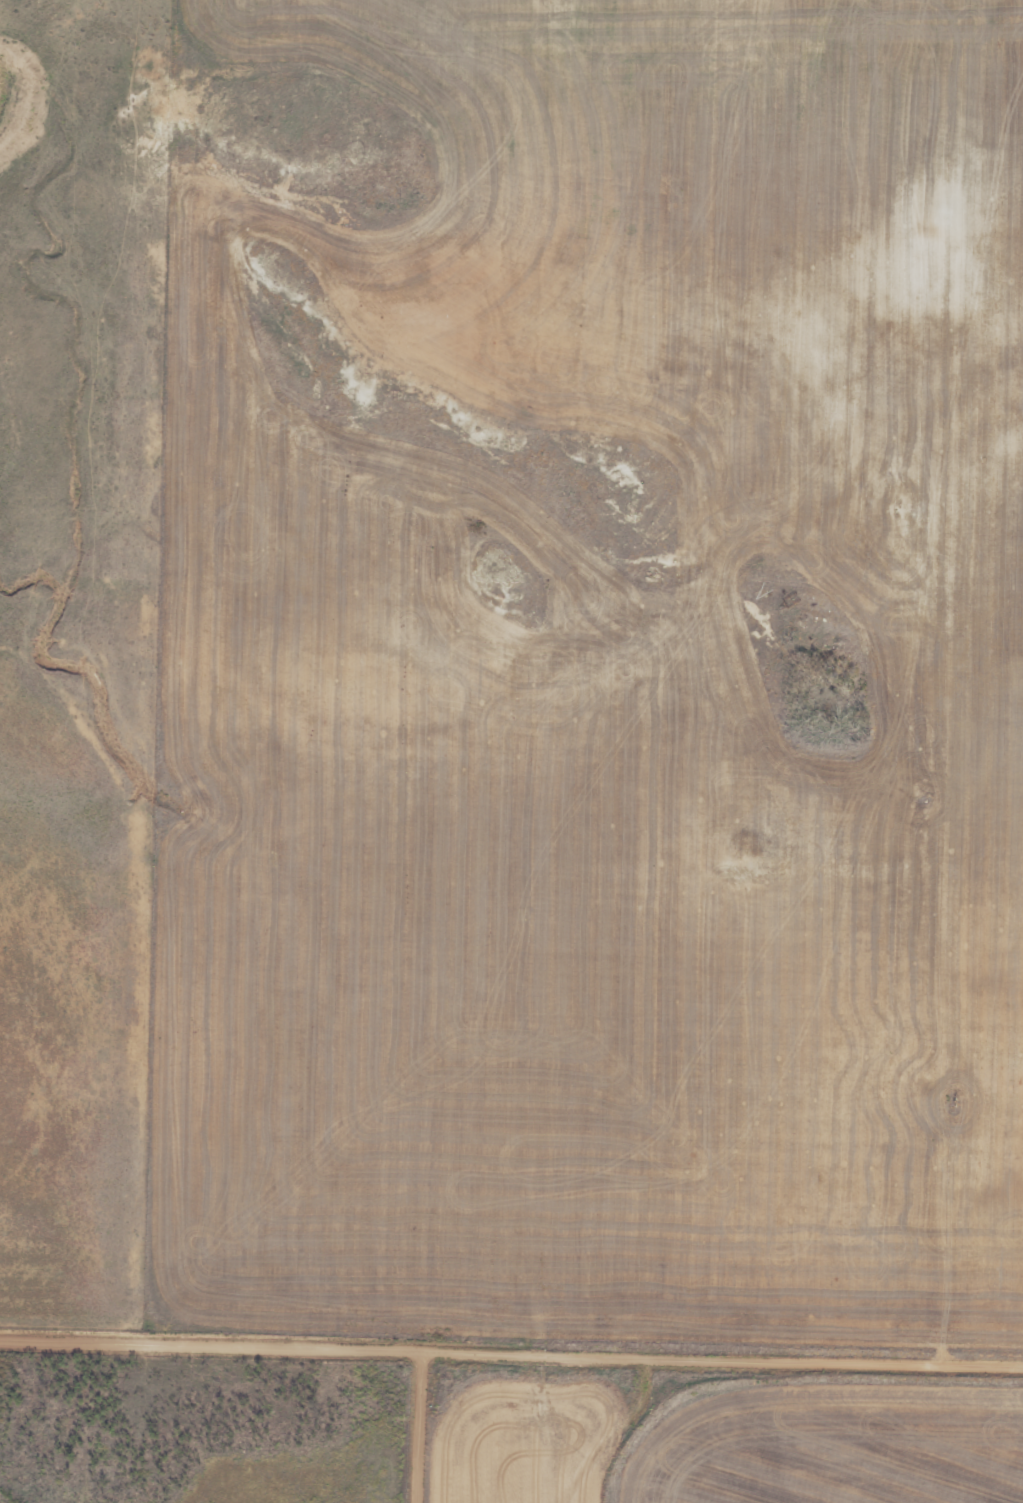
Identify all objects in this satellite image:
road: (511, 1350)
road: (771, 1408)
road: (421, 1425)

